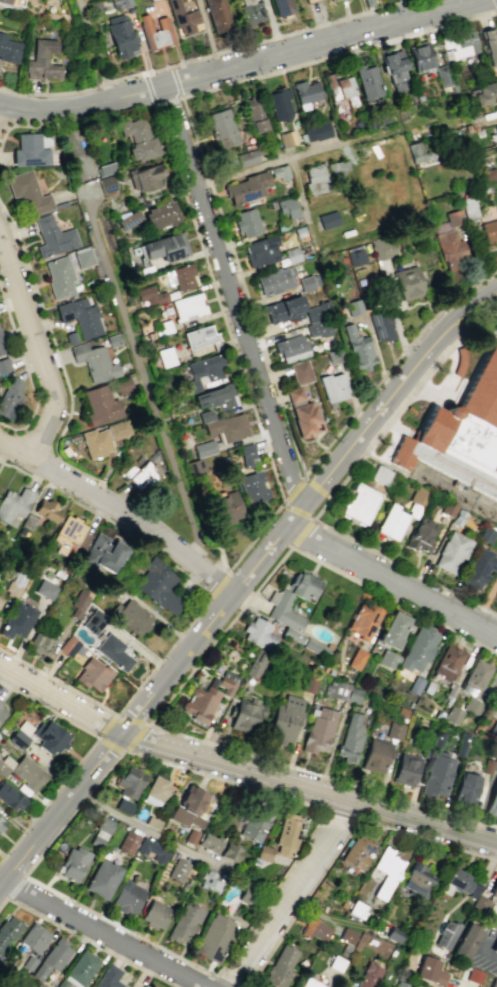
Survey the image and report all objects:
building: (302, 0)
building: (330, 0)
building: (333, 0)
building: (4, 2)
road: (495, 2)
building: (124, 4)
building: (283, 7)
building: (252, 13)
building: (219, 16)
building: (184, 18)
building: (156, 33)
building: (121, 37)
building: (459, 43)
building: (489, 47)
road: (95, 49)
building: (8, 50)
road: (206, 55)
building: (418, 57)
building: (42, 62)
road: (240, 66)
building: (393, 67)
building: (441, 75)
building: (365, 79)
building: (340, 84)
building: (305, 89)
building: (486, 92)
road: (168, 100)
building: (280, 104)
building: (254, 115)
building: (383, 117)
road: (12, 124)
building: (223, 125)
building: (496, 129)
road: (193, 131)
building: (317, 131)
building: (138, 136)
building: (287, 137)
building: (260, 146)
building: (30, 148)
building: (417, 150)
building: (495, 151)
road: (297, 154)
building: (247, 156)
building: (338, 166)
building: (105, 168)
building: (280, 171)
building: (487, 175)
building: (146, 176)
building: (316, 176)
building: (105, 182)
building: (247, 186)
road: (299, 189)
building: (28, 191)
building: (288, 206)
building: (470, 206)
building: (161, 212)
building: (454, 216)
building: (128, 217)
building: (329, 219)
building: (248, 221)
building: (282, 224)
building: (490, 228)
building: (300, 230)
building: (52, 237)
road: (358, 238)
building: (164, 244)
building: (450, 246)
building: (384, 247)
building: (261, 250)
building: (292, 253)
building: (357, 255)
building: (83, 257)
building: (183, 275)
building: (59, 277)
building: (276, 278)
building: (308, 281)
building: (409, 282)
road: (472, 285)
building: (150, 294)
road: (233, 297)
road: (219, 303)
building: (188, 305)
building: (354, 306)
building: (285, 307)
building: (319, 310)
building: (80, 315)
building: (381, 323)
building: (162, 327)
building: (319, 327)
building: (70, 336)
building: (199, 336)
building: (113, 339)
building: (2, 346)
road: (37, 347)
building: (292, 347)
building: (359, 349)
road: (57, 352)
building: (166, 355)
building: (95, 361)
building: (4, 365)
building: (206, 367)
building: (302, 370)
road: (25, 372)
road: (142, 373)
building: (122, 385)
building: (191, 385)
building: (333, 386)
road: (374, 387)
building: (216, 396)
building: (9, 397)
road: (385, 399)
building: (100, 404)
building: (304, 411)
building: (205, 414)
building: (228, 426)
building: (461, 434)
building: (104, 437)
building: (203, 447)
building: (247, 454)
building: (196, 465)
road: (53, 470)
building: (142, 475)
building: (381, 475)
building: (253, 487)
road: (294, 488)
road: (316, 488)
road: (334, 492)
building: (419, 497)
building: (361, 504)
building: (14, 505)
building: (223, 507)
road: (121, 508)
building: (47, 510)
road: (299, 511)
building: (414, 511)
building: (448, 511)
building: (458, 519)
building: (393, 523)
building: (69, 533)
road: (301, 533)
building: (422, 535)
building: (486, 535)
road: (254, 537)
building: (104, 553)
building: (453, 553)
building: (479, 569)
road: (394, 578)
building: (15, 584)
building: (160, 586)
building: (112, 587)
road: (217, 588)
building: (45, 589)
building: (1, 600)
road: (393, 601)
building: (80, 602)
building: (279, 603)
road: (200, 611)
building: (131, 617)
building: (19, 620)
building: (365, 620)
building: (95, 622)
building: (394, 630)
road: (218, 634)
building: (259, 634)
building: (291, 635)
building: (42, 642)
building: (70, 646)
building: (314, 648)
building: (419, 649)
building: (115, 652)
building: (356, 659)
building: (387, 660)
building: (449, 661)
building: (255, 663)
building: (94, 674)
building: (478, 675)
building: (414, 684)
building: (309, 685)
building: (342, 691)
building: (495, 696)
building: (207, 698)
road: (60, 700)
building: (0, 702)
road: (145, 704)
building: (473, 706)
building: (2, 713)
building: (245, 715)
building: (453, 716)
building: (284, 720)
building: (493, 728)
building: (318, 730)
building: (393, 730)
building: (49, 737)
building: (350, 738)
road: (125, 748)
road: (83, 755)
building: (376, 755)
road: (141, 756)
building: (495, 766)
building: (488, 767)
building: (405, 769)
building: (23, 771)
building: (438, 774)
road: (320, 775)
building: (130, 782)
road: (309, 787)
building: (465, 788)
building: (157, 789)
building: (11, 797)
building: (493, 802)
building: (123, 806)
building: (188, 807)
road: (341, 815)
building: (1, 823)
building: (104, 824)
building: (255, 826)
road: (150, 831)
building: (287, 834)
building: (96, 842)
building: (126, 842)
building: (209, 842)
road: (341, 842)
building: (152, 850)
building: (230, 852)
building: (263, 852)
building: (357, 855)
building: (73, 864)
building: (177, 870)
building: (386, 871)
building: (102, 879)
building: (418, 881)
building: (209, 882)
building: (460, 884)
road: (14, 886)
building: (494, 889)
road: (289, 892)
building: (127, 898)
building: (343, 903)
building: (481, 904)
building: (356, 909)
building: (496, 911)
building: (155, 914)
building: (183, 923)
building: (314, 928)
building: (7, 931)
road: (106, 932)
building: (446, 933)
building: (394, 934)
building: (346, 935)
building: (33, 937)
building: (214, 937)
road: (86, 940)
building: (470, 941)
building: (495, 949)
road: (485, 952)
building: (51, 959)
building: (28, 962)
building: (335, 963)
building: (280, 967)
building: (80, 969)
building: (429, 971)
building: (368, 975)
building: (474, 975)
building: (108, 977)
road: (219, 978)
building: (493, 982)
building: (308, 983)
building: (401, 984)
building: (148, 985)

